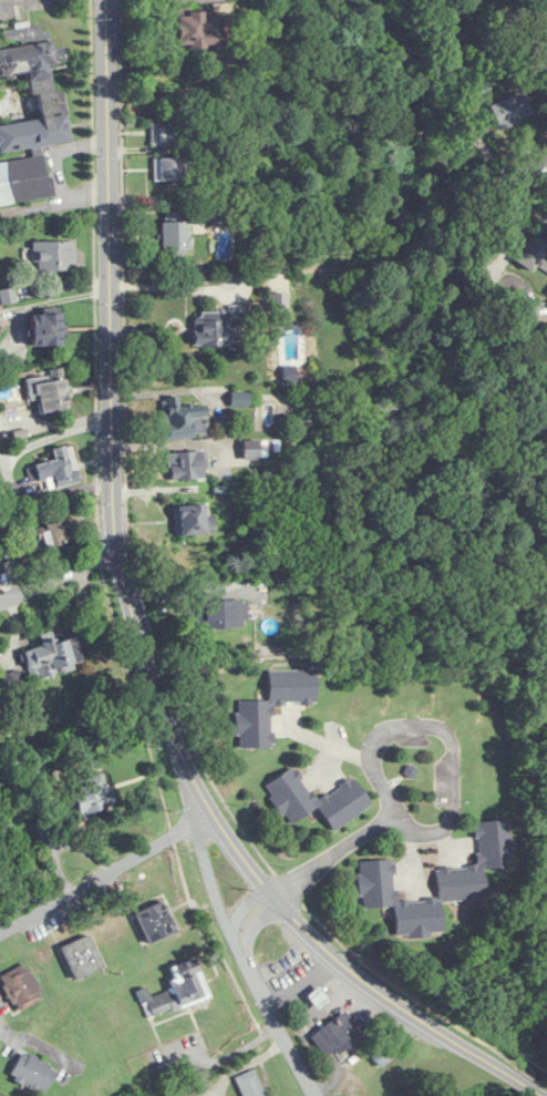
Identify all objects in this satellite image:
building: (477, 0)
building: (195, 29)
building: (479, 84)
building: (512, 110)
building: (28, 113)
building: (165, 133)
road: (58, 151)
building: (172, 168)
road: (520, 174)
road: (55, 202)
building: (174, 236)
building: (533, 254)
building: (53, 255)
road: (486, 268)
road: (168, 287)
building: (7, 295)
building: (277, 301)
building: (44, 329)
building: (217, 329)
building: (48, 391)
building: (183, 419)
building: (187, 464)
building: (56, 468)
building: (193, 519)
building: (55, 536)
road: (60, 576)
building: (216, 614)
road: (140, 631)
building: (51, 657)
building: (12, 683)
building: (271, 707)
road: (454, 757)
building: (289, 792)
building: (90, 796)
road: (448, 844)
road: (336, 852)
road: (206, 857)
road: (411, 862)
road: (105, 873)
building: (460, 883)
road: (246, 903)
building: (154, 922)
road: (255, 926)
building: (81, 956)
building: (21, 987)
building: (179, 990)
building: (317, 997)
road: (282, 1028)
building: (336, 1034)
road: (32, 1043)
building: (384, 1053)
building: (32, 1072)

